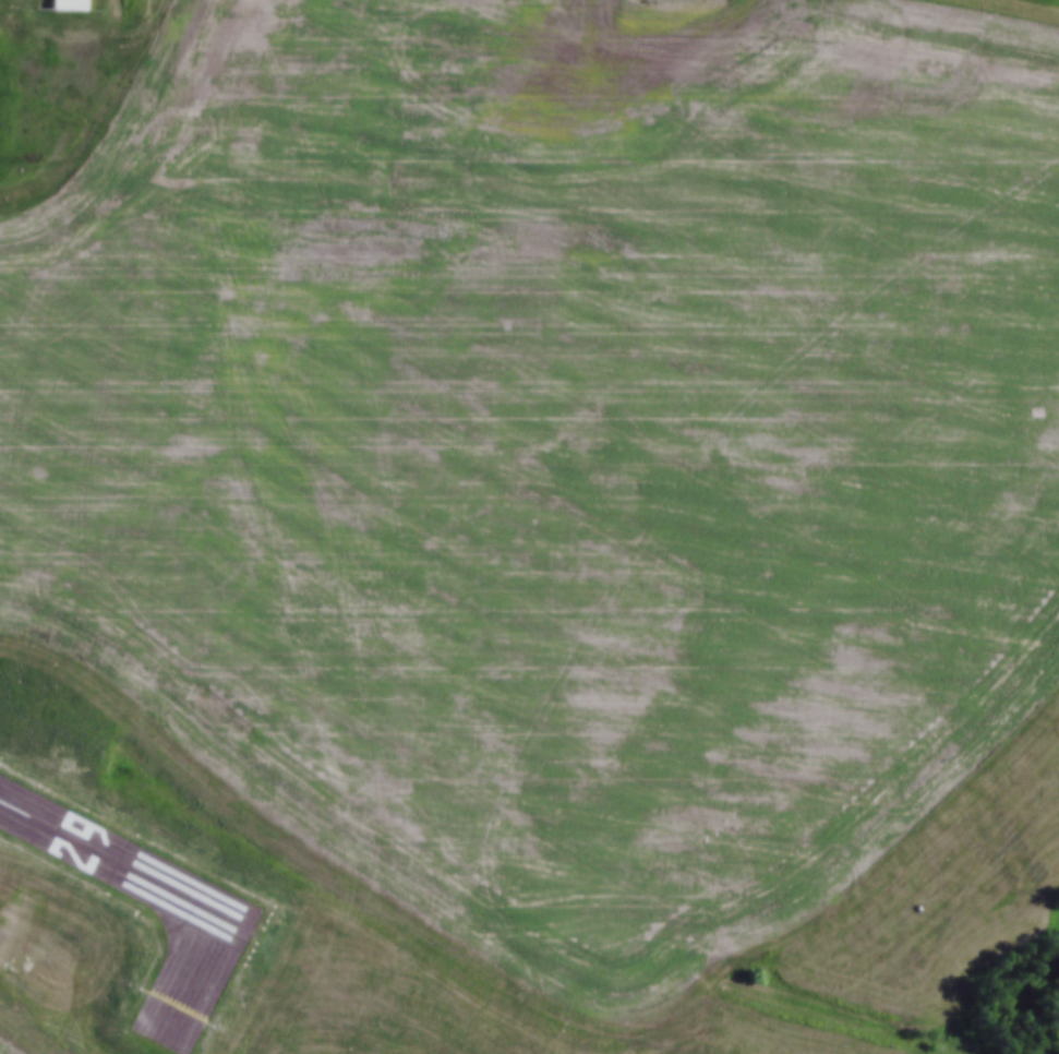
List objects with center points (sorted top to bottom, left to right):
building: (69, 5)
crop: (550, 442)
airport runway: (118, 863)

